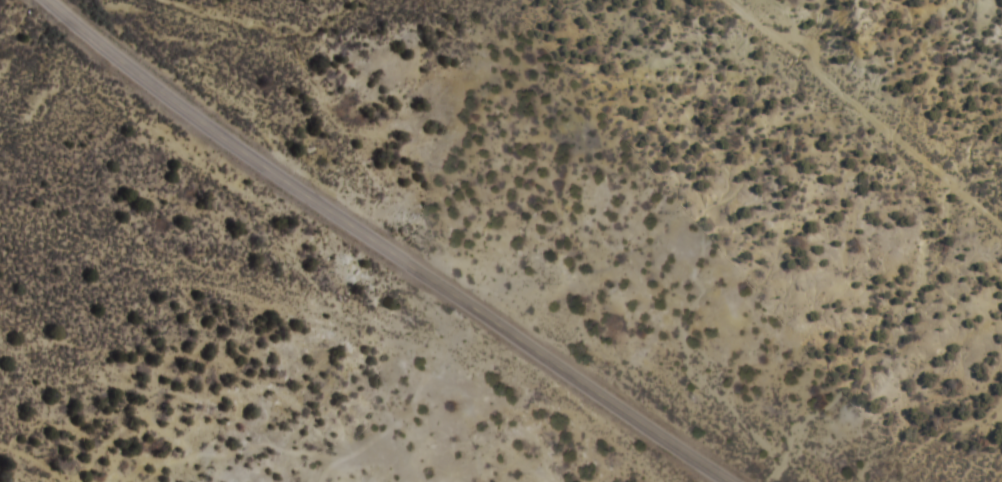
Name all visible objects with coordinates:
road: (866, 107)
road: (394, 248)

